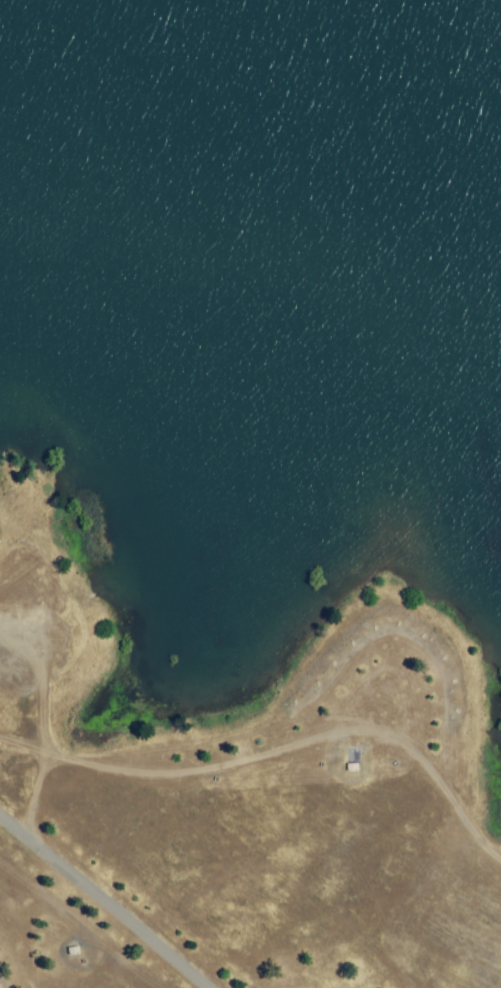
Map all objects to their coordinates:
road: (103, 901)

